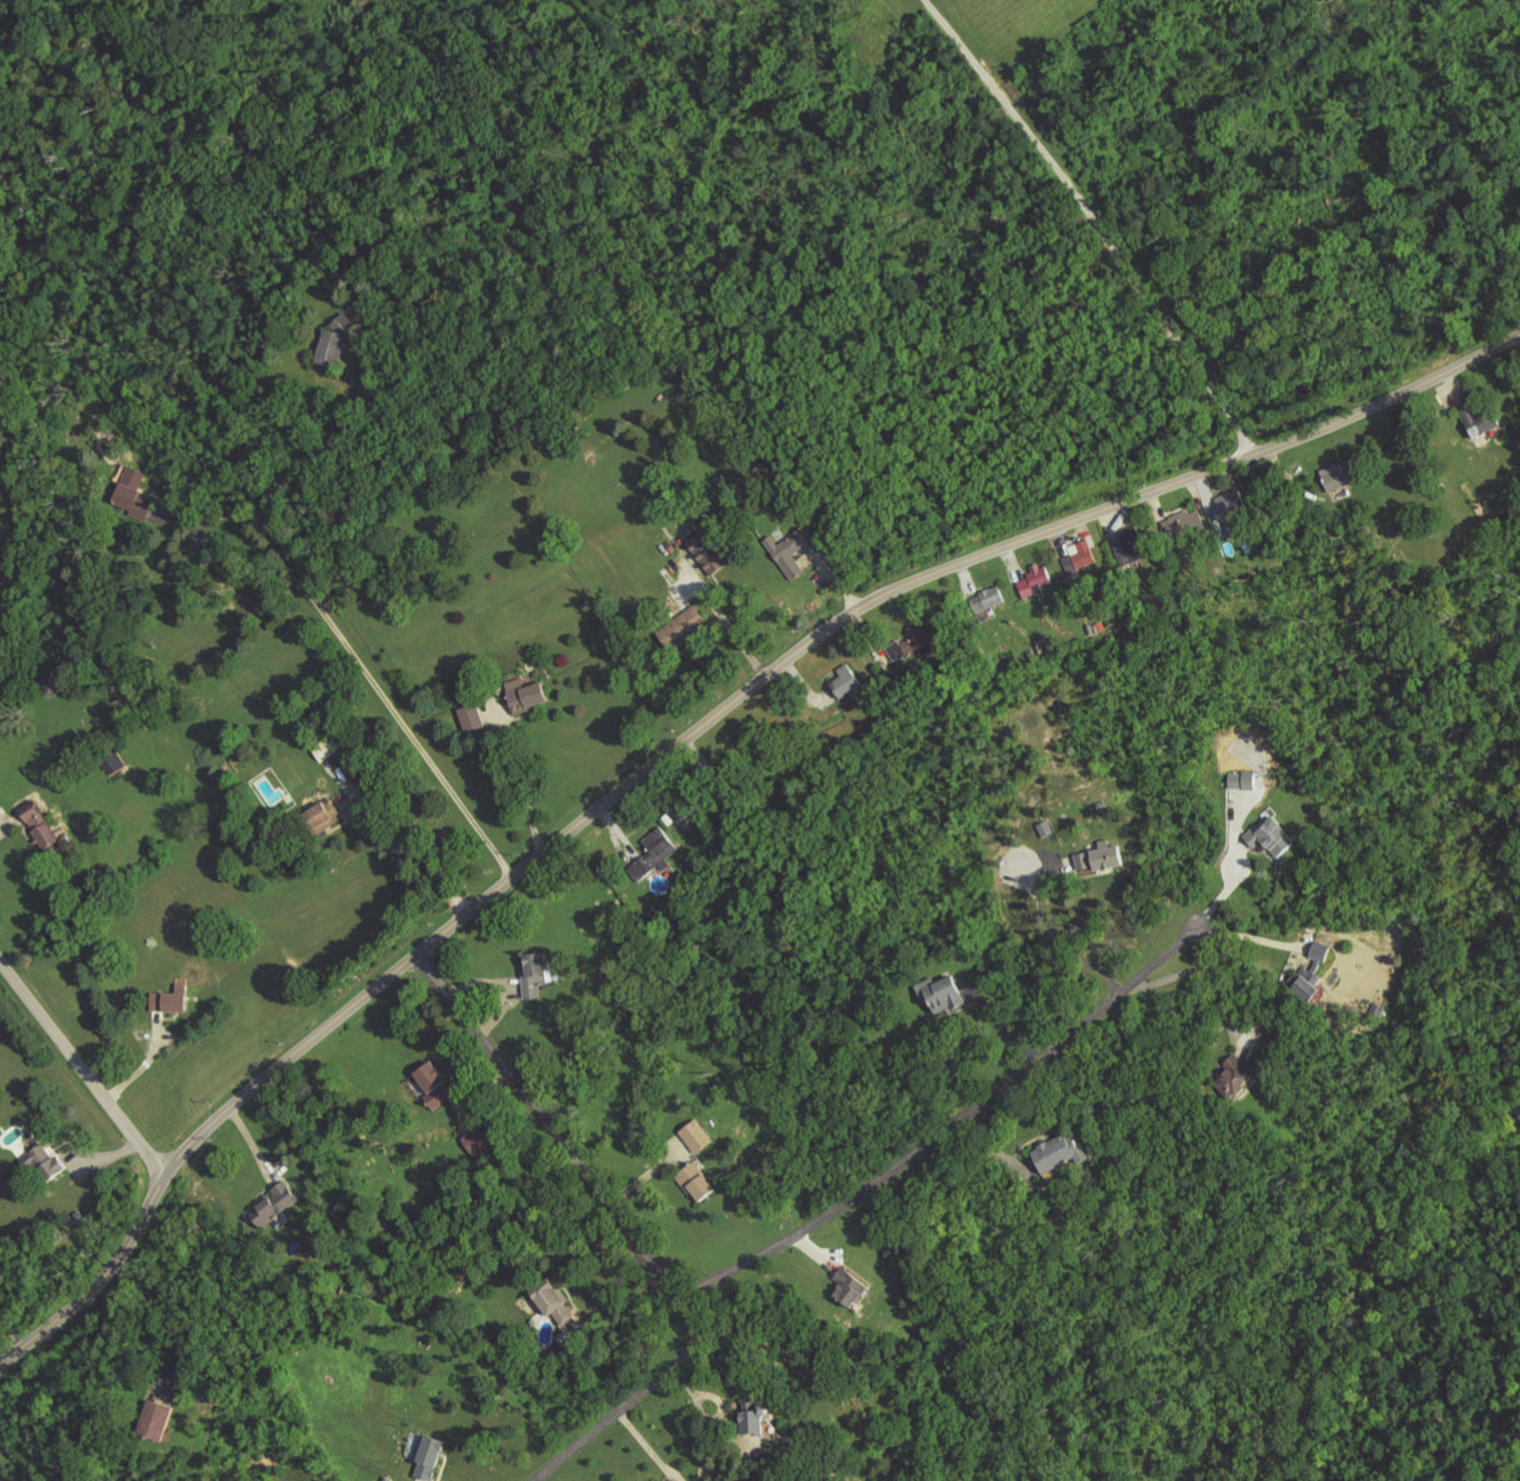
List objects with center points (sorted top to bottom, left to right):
road: (1096, 222)
building: (334, 343)
building: (1482, 419)
road: (321, 443)
building: (1341, 474)
building: (135, 494)
building: (1231, 501)
road: (210, 516)
building: (1188, 523)
building: (1130, 546)
building: (791, 550)
building: (708, 553)
building: (1079, 558)
building: (1036, 581)
building: (993, 596)
road: (729, 626)
building: (684, 627)
building: (1046, 644)
building: (847, 681)
building: (527, 696)
road: (385, 698)
building: (473, 717)
road: (684, 740)
building: (1245, 780)
road: (523, 790)
building: (327, 813)
building: (684, 815)
road: (10, 823)
building: (41, 825)
building: (1046, 828)
building: (1273, 836)
road: (400, 853)
building: (654, 853)
building: (1103, 858)
road: (1240, 877)
road: (1059, 936)
road: (1248, 939)
road: (1202, 972)
building: (1313, 972)
building: (536, 974)
building: (943, 993)
building: (172, 1000)
road: (1002, 1020)
road: (144, 1065)
road: (81, 1069)
building: (1235, 1077)
building: (437, 1084)
road: (949, 1129)
building: (697, 1136)
building: (479, 1139)
building: (1062, 1152)
building: (47, 1162)
building: (698, 1182)
building: (276, 1204)
road: (628, 1229)
building: (853, 1288)
building: (555, 1302)
road: (173, 1316)
road: (13, 1332)
building: (757, 1419)
building: (157, 1420)
road: (645, 1448)
building: (430, 1457)

